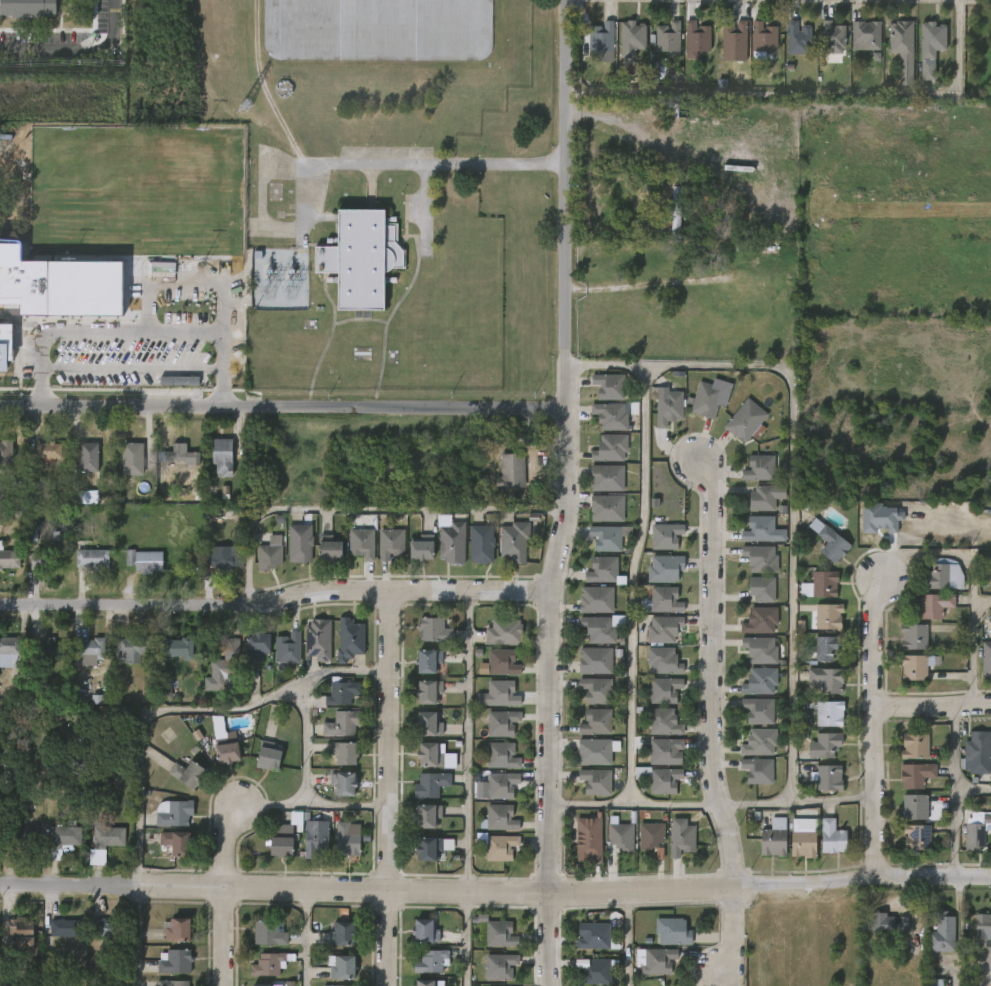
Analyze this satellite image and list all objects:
building: (27, 7)
building: (378, 30)
building: (865, 34)
building: (599, 36)
building: (665, 36)
building: (628, 37)
building: (761, 37)
building: (831, 37)
building: (694, 38)
building: (796, 38)
building: (929, 38)
building: (734, 42)
road: (77, 46)
building: (900, 48)
road: (415, 164)
road: (424, 206)
building: (675, 210)
building: (224, 222)
building: (661, 227)
building: (360, 259)
road: (189, 278)
building: (58, 288)
road: (131, 330)
building: (4, 347)
parking lot: (100, 351)
road: (130, 370)
building: (609, 385)
road: (41, 393)
road: (221, 393)
building: (705, 400)
road: (284, 404)
building: (668, 407)
building: (611, 416)
building: (743, 419)
road: (568, 444)
building: (610, 447)
building: (50, 450)
building: (5, 453)
building: (179, 454)
building: (221, 455)
building: (91, 457)
building: (131, 459)
building: (758, 468)
building: (513, 470)
road: (791, 476)
building: (606, 477)
building: (481, 482)
building: (760, 498)
road: (364, 508)
building: (606, 508)
building: (757, 529)
building: (666, 535)
building: (451, 537)
building: (606, 537)
building: (513, 541)
building: (300, 542)
building: (361, 542)
building: (828, 542)
building: (390, 543)
building: (481, 543)
building: (328, 547)
building: (421, 548)
building: (269, 553)
building: (9, 557)
building: (758, 558)
building: (94, 559)
building: (221, 560)
building: (48, 561)
building: (146, 561)
building: (988, 562)
building: (665, 567)
building: (602, 569)
building: (935, 577)
building: (824, 583)
road: (630, 585)
building: (761, 588)
road: (276, 598)
building: (596, 600)
building: (668, 600)
building: (933, 605)
building: (826, 616)
building: (758, 621)
building: (434, 629)
building: (598, 629)
building: (666, 629)
building: (507, 632)
building: (914, 636)
building: (318, 639)
building: (349, 639)
building: (254, 642)
building: (89, 647)
building: (287, 647)
building: (826, 647)
road: (972, 647)
building: (177, 648)
building: (45, 649)
building: (136, 649)
building: (758, 650)
building: (12, 659)
building: (427, 660)
building: (595, 660)
building: (986, 660)
building: (662, 661)
building: (505, 662)
building: (223, 665)
building: (917, 666)
building: (825, 679)
building: (758, 681)
building: (597, 690)
building: (662, 690)
building: (426, 691)
building: (337, 694)
building: (504, 694)
road: (932, 705)
building: (756, 711)
building: (828, 714)
road: (709, 718)
building: (596, 722)
building: (662, 722)
building: (505, 723)
building: (343, 724)
building: (427, 724)
road: (143, 725)
road: (873, 729)
building: (757, 742)
building: (825, 745)
building: (915, 746)
building: (976, 749)
building: (226, 750)
building: (595, 751)
building: (664, 751)
building: (346, 754)
building: (426, 754)
building: (269, 755)
building: (504, 756)
road: (305, 769)
building: (755, 770)
building: (189, 774)
building: (916, 774)
building: (828, 778)
building: (596, 781)
building: (663, 781)
building: (344, 784)
building: (430, 784)
building: (504, 785)
road: (389, 788)
road: (467, 788)
road: (972, 789)
road: (953, 791)
road: (711, 804)
building: (172, 813)
building: (427, 815)
building: (502, 818)
building: (916, 821)
building: (650, 835)
building: (108, 837)
building: (315, 837)
building: (830, 837)
building: (971, 837)
building: (619, 838)
building: (679, 838)
building: (23, 839)
building: (64, 839)
building: (349, 839)
building: (772, 839)
building: (279, 840)
building: (174, 842)
road: (226, 843)
building: (801, 844)
building: (591, 845)
building: (426, 848)
building: (503, 848)
road: (495, 888)
building: (887, 923)
building: (981, 924)
building: (107, 925)
building: (65, 927)
building: (177, 930)
building: (424, 930)
building: (670, 931)
building: (23, 932)
building: (268, 933)
building: (342, 933)
building: (502, 933)
building: (593, 935)
building: (942, 935)
road: (225, 937)
road: (306, 937)
road: (545, 937)
road: (628, 937)
building: (659, 960)
building: (174, 961)
building: (431, 962)
building: (272, 963)
building: (502, 965)
building: (344, 966)
building: (597, 972)
building: (6, 981)
building: (172, 983)
building: (425, 983)
building: (260, 985)

